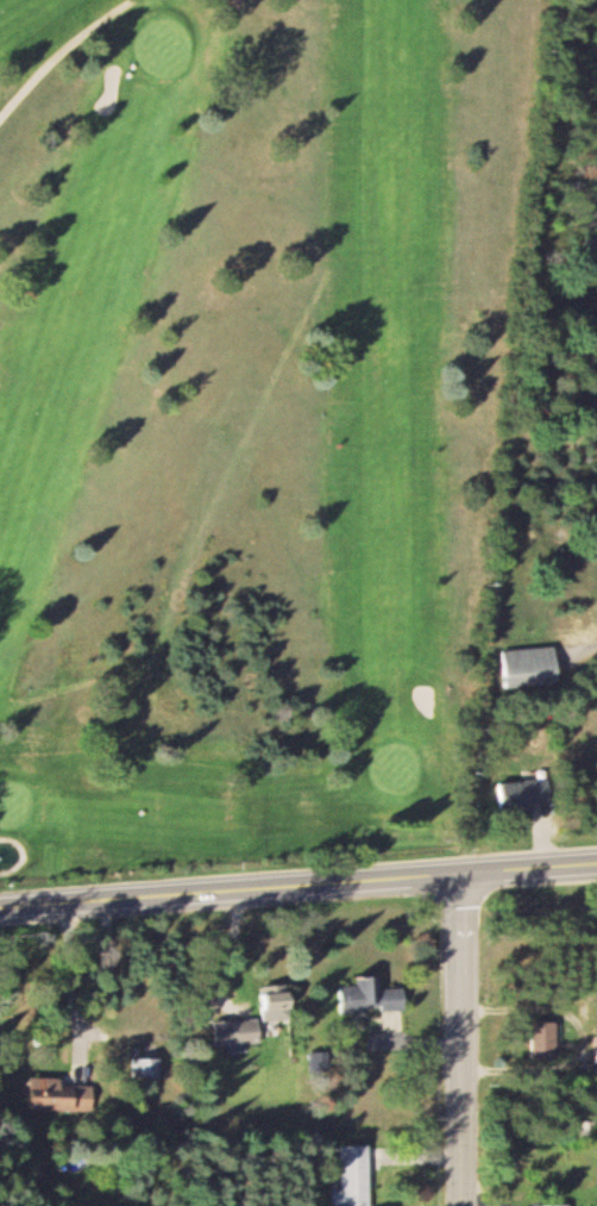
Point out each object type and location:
park: (244, 414)
building: (532, 666)
building: (524, 795)
road: (297, 880)
building: (371, 996)
building: (278, 1001)
road: (458, 1036)
building: (545, 1039)
building: (149, 1067)
building: (64, 1094)
building: (356, 1176)

